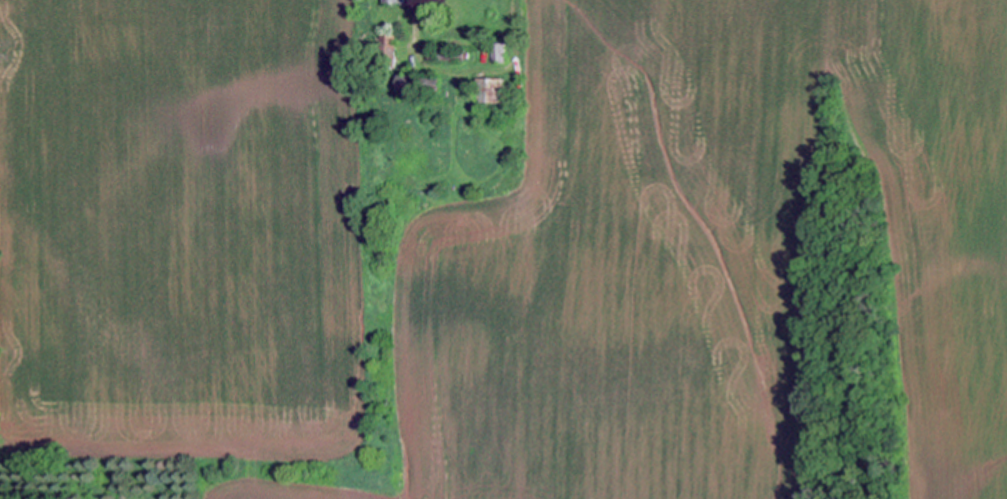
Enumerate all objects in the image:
building: (395, 1)
road: (409, 48)
building: (386, 52)
building: (498, 54)
building: (445, 56)
building: (415, 88)
building: (490, 91)
building: (421, 100)
building: (455, 190)

